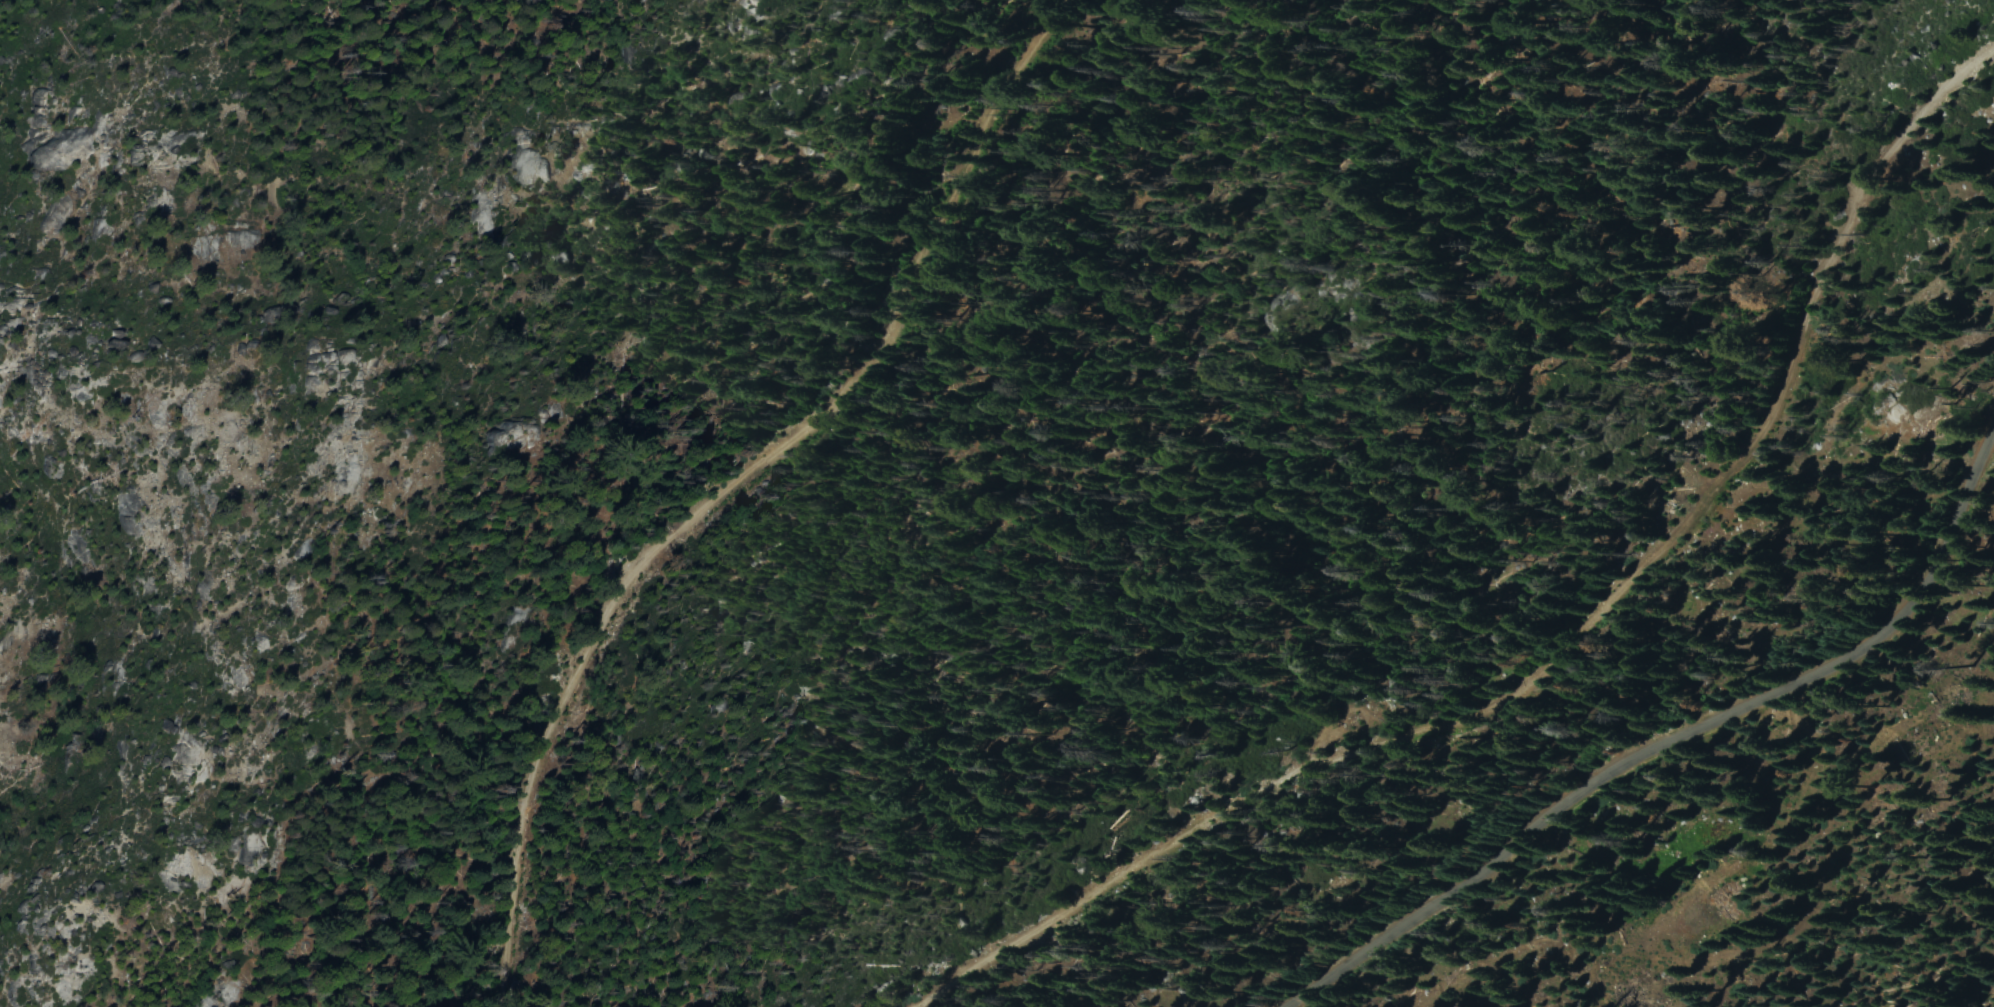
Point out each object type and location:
road: (1573, 627)
road: (1678, 741)

